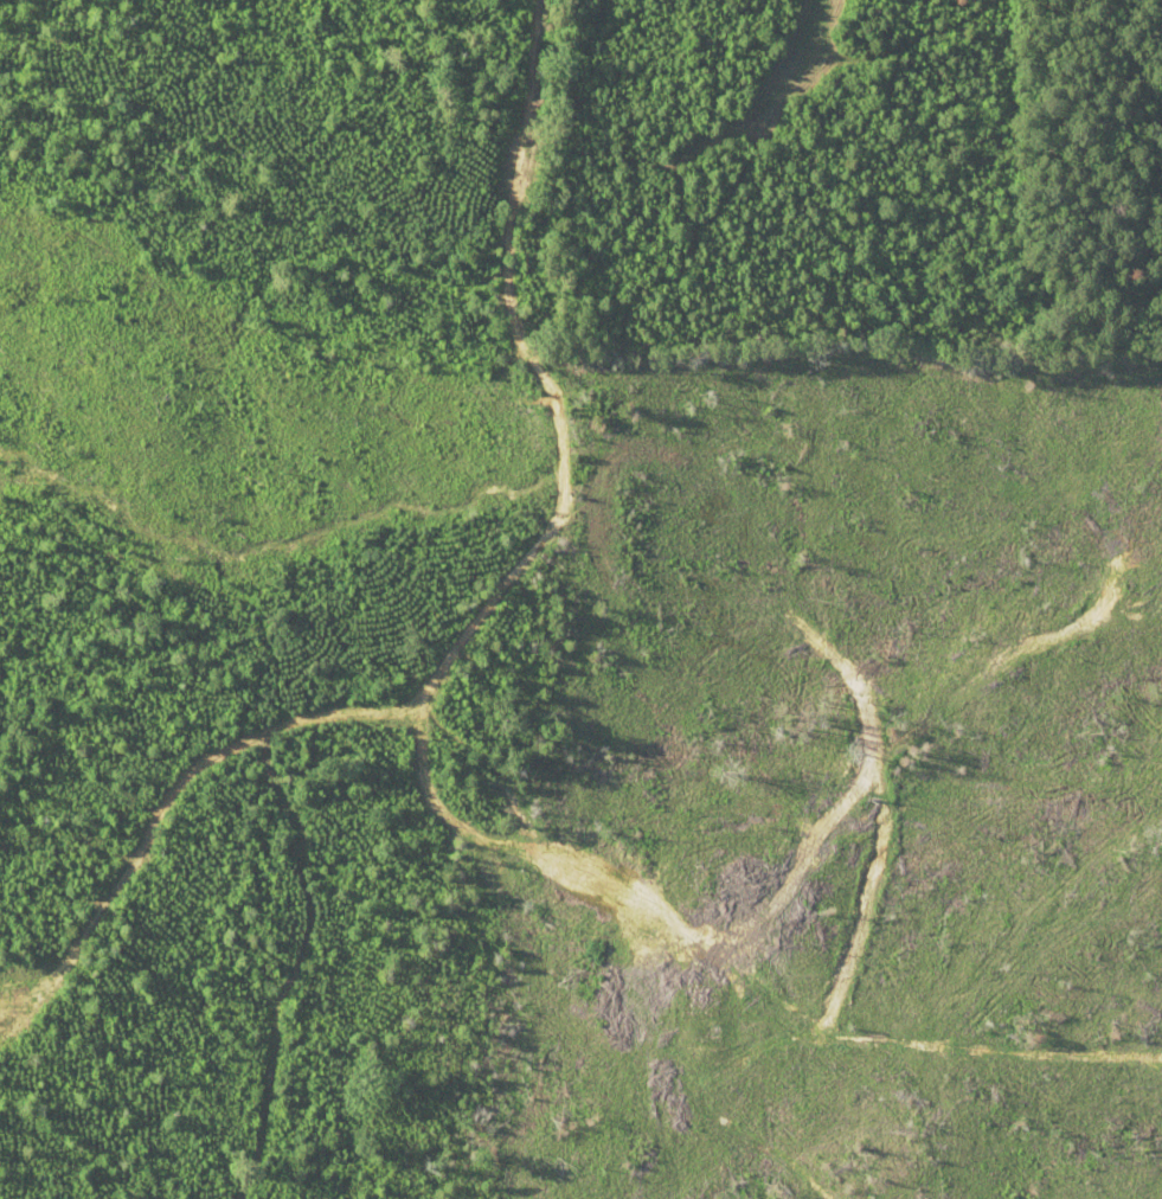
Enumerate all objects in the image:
road: (809, 1027)

